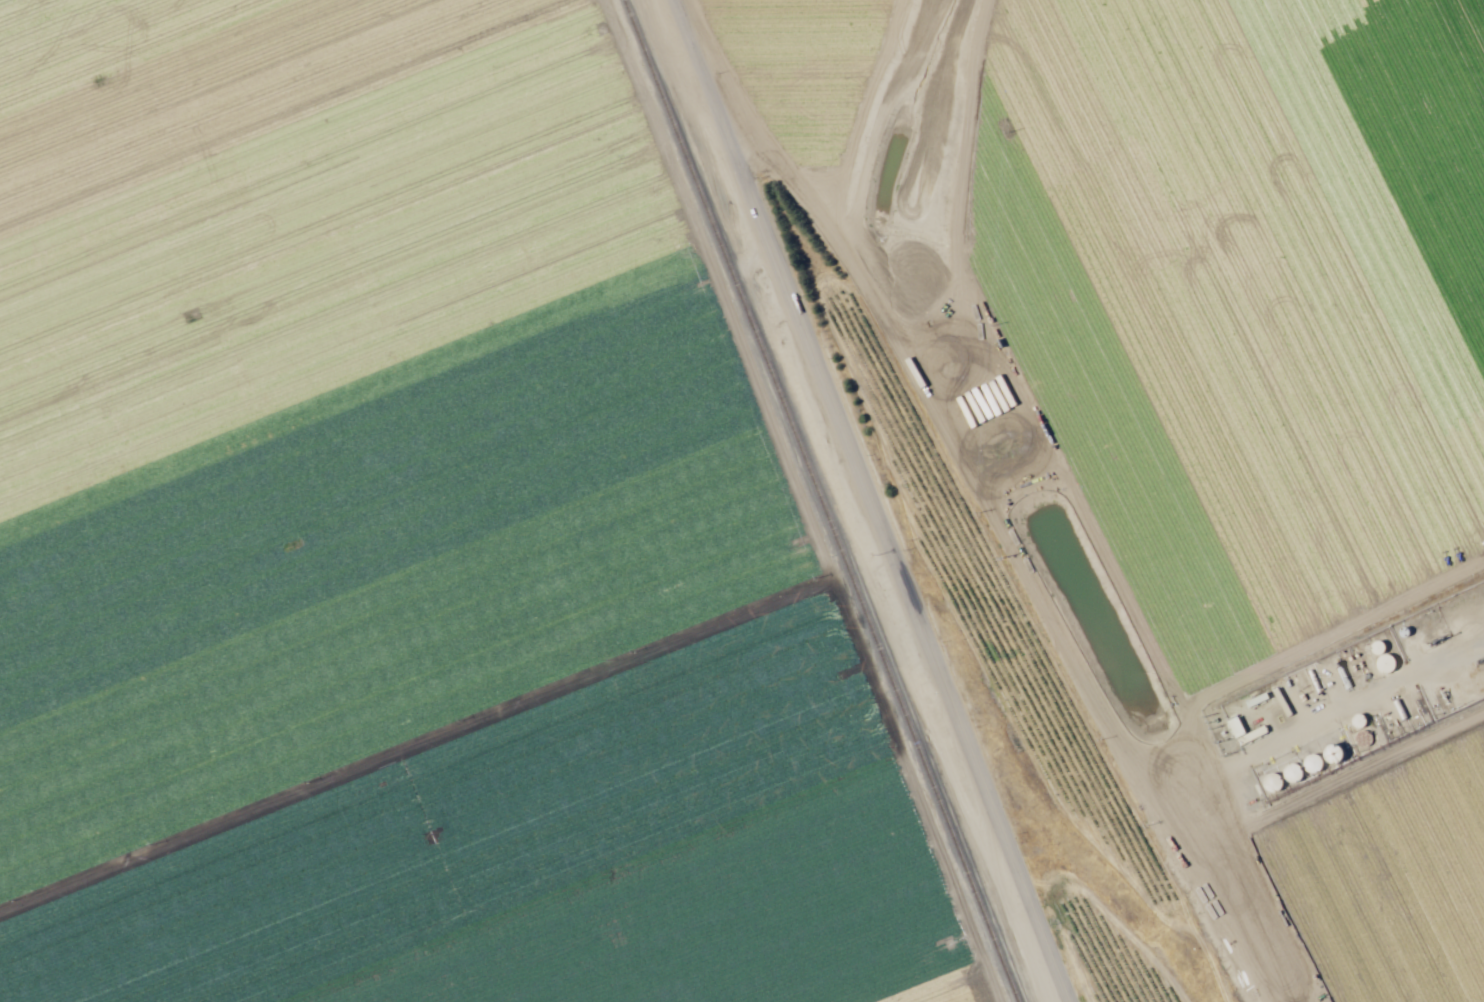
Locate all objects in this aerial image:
road: (876, 275)
crop: (1178, 446)
road: (876, 500)
railway: (815, 503)
road: (1066, 536)
crop: (401, 542)
road: (453, 878)

